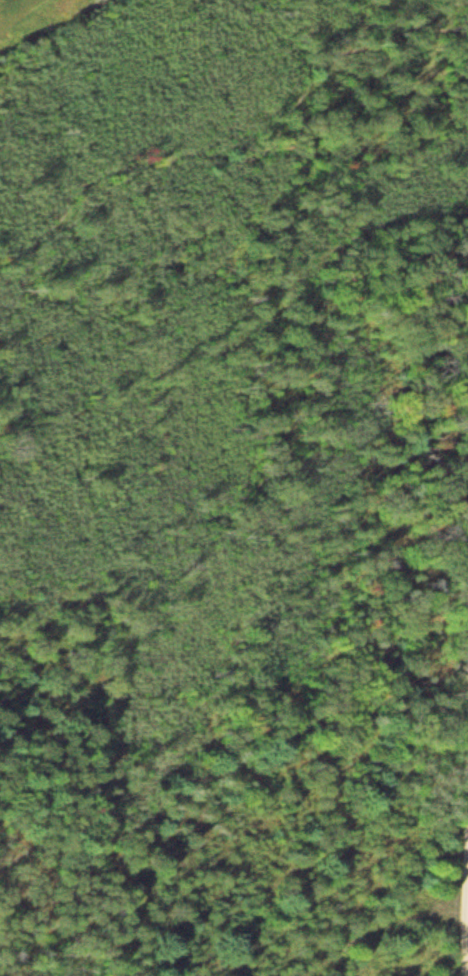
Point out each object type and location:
road: (14, 9)
road: (214, 150)
road: (371, 437)
road: (466, 824)

